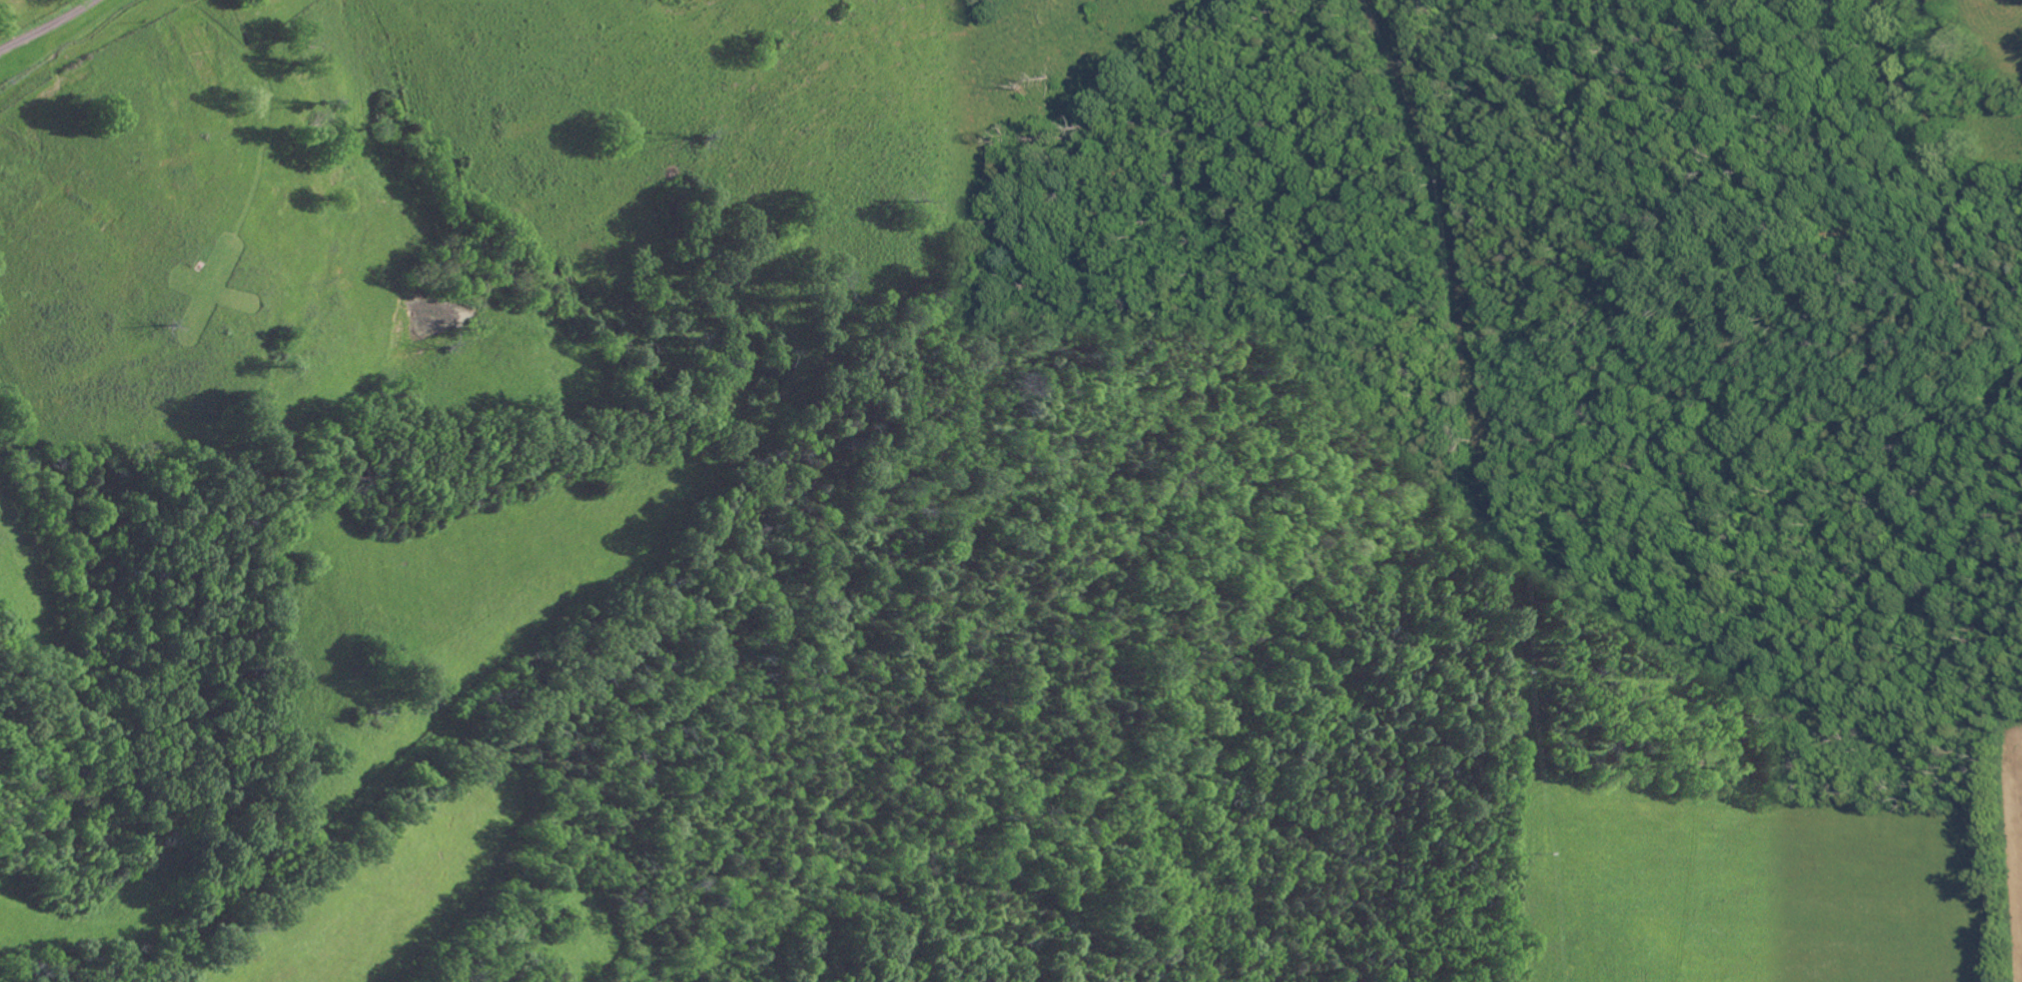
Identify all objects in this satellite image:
road: (47, 25)

